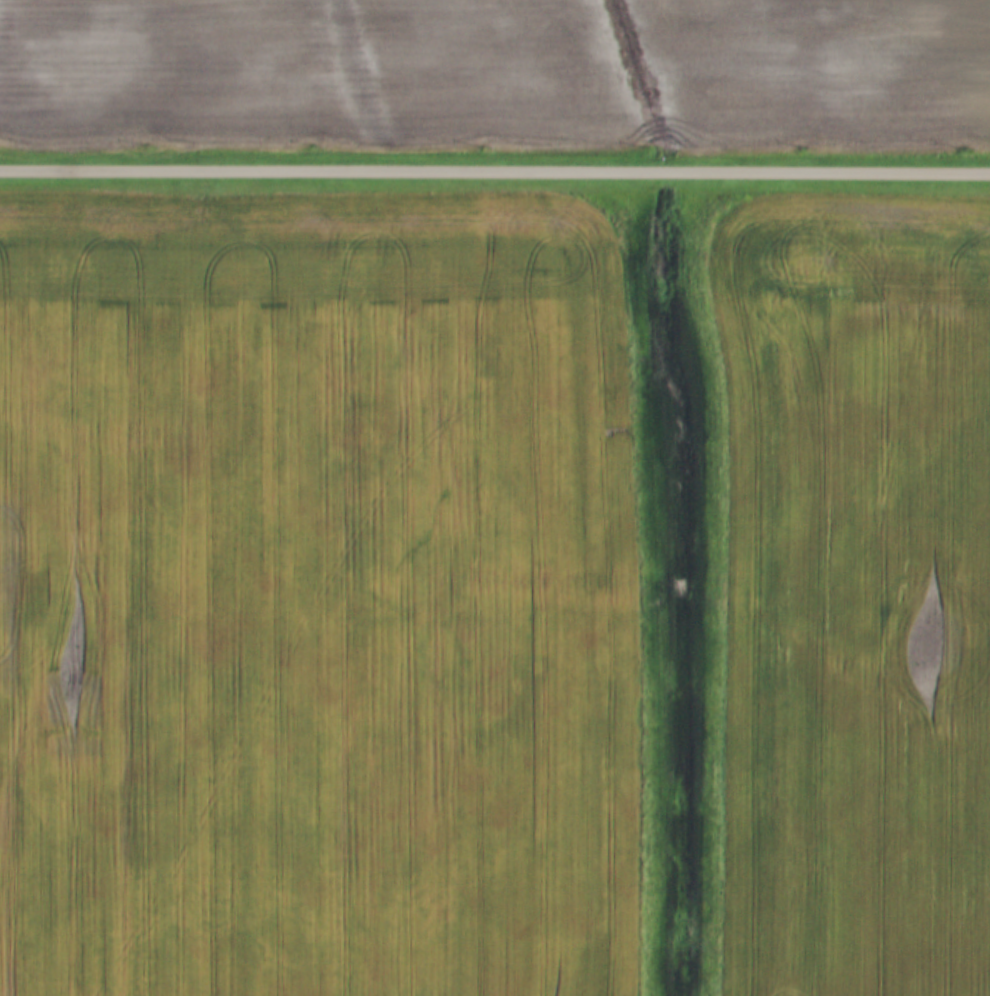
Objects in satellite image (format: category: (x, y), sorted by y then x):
road: (494, 172)

